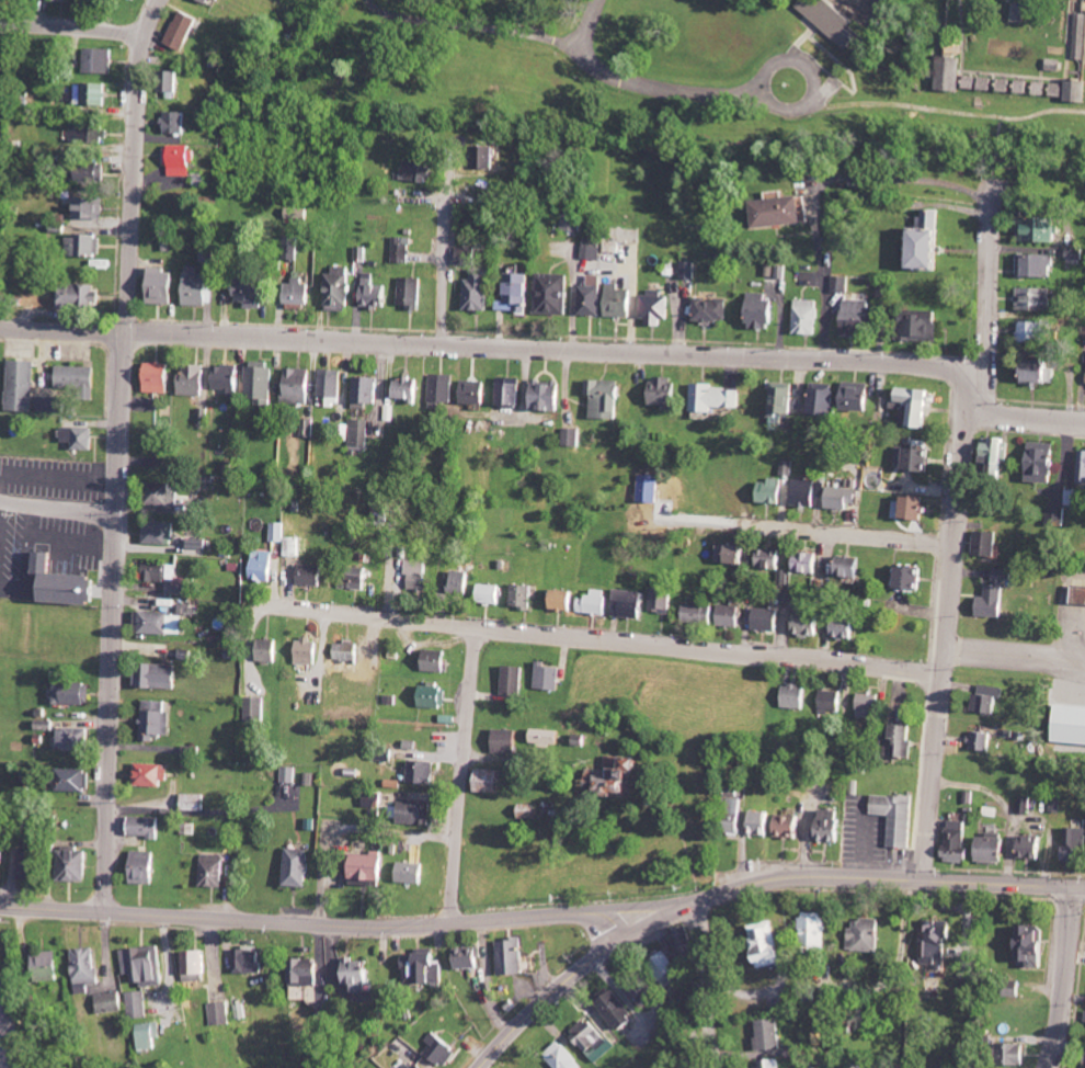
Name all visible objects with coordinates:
building: (221, 0)
building: (207, 1)
building: (833, 20)
road: (73, 24)
building: (186, 31)
building: (1081, 37)
building: (101, 61)
building: (952, 73)
building: (174, 81)
building: (982, 82)
park: (705, 87)
building: (1043, 88)
building: (1062, 89)
building: (1078, 92)
building: (95, 94)
building: (179, 123)
building: (89, 134)
building: (490, 158)
building: (182, 160)
building: (419, 170)
building: (93, 172)
building: (90, 207)
building: (781, 213)
building: (573, 220)
building: (1044, 230)
building: (934, 242)
building: (85, 246)
building: (404, 250)
building: (594, 250)
road: (447, 255)
building: (470, 257)
building: (1039, 266)
building: (690, 271)
building: (842, 284)
building: (164, 286)
building: (198, 287)
building: (340, 289)
road: (993, 289)
building: (480, 291)
building: (252, 292)
building: (299, 292)
building: (375, 293)
building: (413, 293)
building: (521, 293)
building: (555, 294)
road: (571, 296)
building: (81, 297)
building: (592, 297)
road: (631, 299)
building: (1038, 299)
building: (620, 302)
building: (656, 308)
building: (712, 310)
building: (762, 311)
building: (808, 317)
building: (860, 318)
building: (924, 326)
building: (1039, 331)
road: (550, 353)
building: (1038, 372)
building: (79, 377)
building: (160, 378)
building: (230, 379)
building: (195, 380)
building: (262, 384)
building: (24, 386)
building: (300, 386)
building: (332, 386)
building: (442, 389)
building: (409, 390)
building: (368, 391)
building: (511, 391)
building: (666, 391)
building: (475, 393)
building: (549, 397)
building: (860, 397)
building: (785, 398)
building: (606, 399)
building: (718, 399)
building: (823, 399)
building: (55, 405)
building: (918, 405)
building: (361, 435)
building: (81, 438)
building: (573, 438)
building: (164, 445)
road: (121, 453)
building: (997, 454)
building: (915, 459)
building: (1044, 463)
building: (1082, 467)
building: (770, 491)
building: (806, 492)
building: (165, 496)
building: (1075, 497)
building: (842, 498)
road: (59, 504)
building: (913, 509)
building: (160, 532)
building: (279, 532)
road: (847, 532)
building: (990, 544)
building: (295, 547)
building: (733, 555)
building: (772, 559)
building: (809, 564)
building: (264, 566)
building: (852, 568)
building: (312, 575)
building: (418, 576)
building: (165, 577)
building: (356, 579)
building: (913, 579)
building: (64, 583)
building: (459, 583)
building: (489, 594)
building: (1075, 595)
building: (522, 597)
building: (987, 597)
building: (566, 601)
building: (662, 601)
building: (595, 603)
building: (628, 603)
building: (698, 614)
building: (731, 616)
building: (768, 620)
building: (162, 624)
building: (809, 624)
building: (846, 628)
road: (947, 635)
road: (606, 640)
building: (270, 650)
building: (309, 652)
building: (347, 654)
road: (1016, 656)
building: (436, 661)
building: (159, 677)
building: (550, 678)
building: (514, 682)
building: (75, 694)
building: (433, 696)
building: (787, 696)
building: (983, 698)
building: (827, 701)
building: (865, 705)
building: (259, 711)
building: (159, 722)
building: (75, 739)
building: (547, 739)
building: (896, 739)
building: (979, 740)
building: (509, 741)
building: (384, 753)
building: (425, 773)
road: (466, 774)
building: (153, 775)
building: (290, 775)
building: (603, 776)
building: (75, 781)
building: (492, 782)
building: (375, 802)
building: (195, 803)
building: (1020, 804)
building: (420, 813)
building: (730, 816)
building: (891, 816)
building: (755, 822)
building: (824, 825)
building: (784, 826)
building: (146, 828)
building: (951, 836)
building: (1071, 837)
building: (1025, 847)
building: (981, 848)
building: (3, 856)
building: (30, 864)
building: (78, 865)
building: (299, 866)
building: (147, 867)
building: (213, 870)
building: (412, 872)
road: (861, 874)
road: (323, 922)
building: (810, 930)
building: (676, 934)
building: (861, 935)
building: (932, 941)
building: (757, 944)
building: (1025, 944)
building: (514, 956)
building: (471, 957)
building: (249, 959)
building: (49, 965)
building: (146, 965)
building: (197, 965)
road: (170, 967)
building: (88, 968)
building: (660, 968)
building: (310, 975)
building: (359, 975)
road: (1066, 977)
road: (487, 979)
road: (709, 984)
road: (556, 987)
road: (797, 988)
building: (1008, 988)
building: (113, 1002)
building: (140, 1003)
building: (609, 1009)
building: (221, 1013)
building: (1084, 1021)
building: (765, 1033)
building: (150, 1035)
building: (581, 1035)
building: (443, 1048)
building: (1006, 1054)
building: (557, 1056)
building: (1082, 1060)
building: (769, 1063)
building: (412, 1065)

